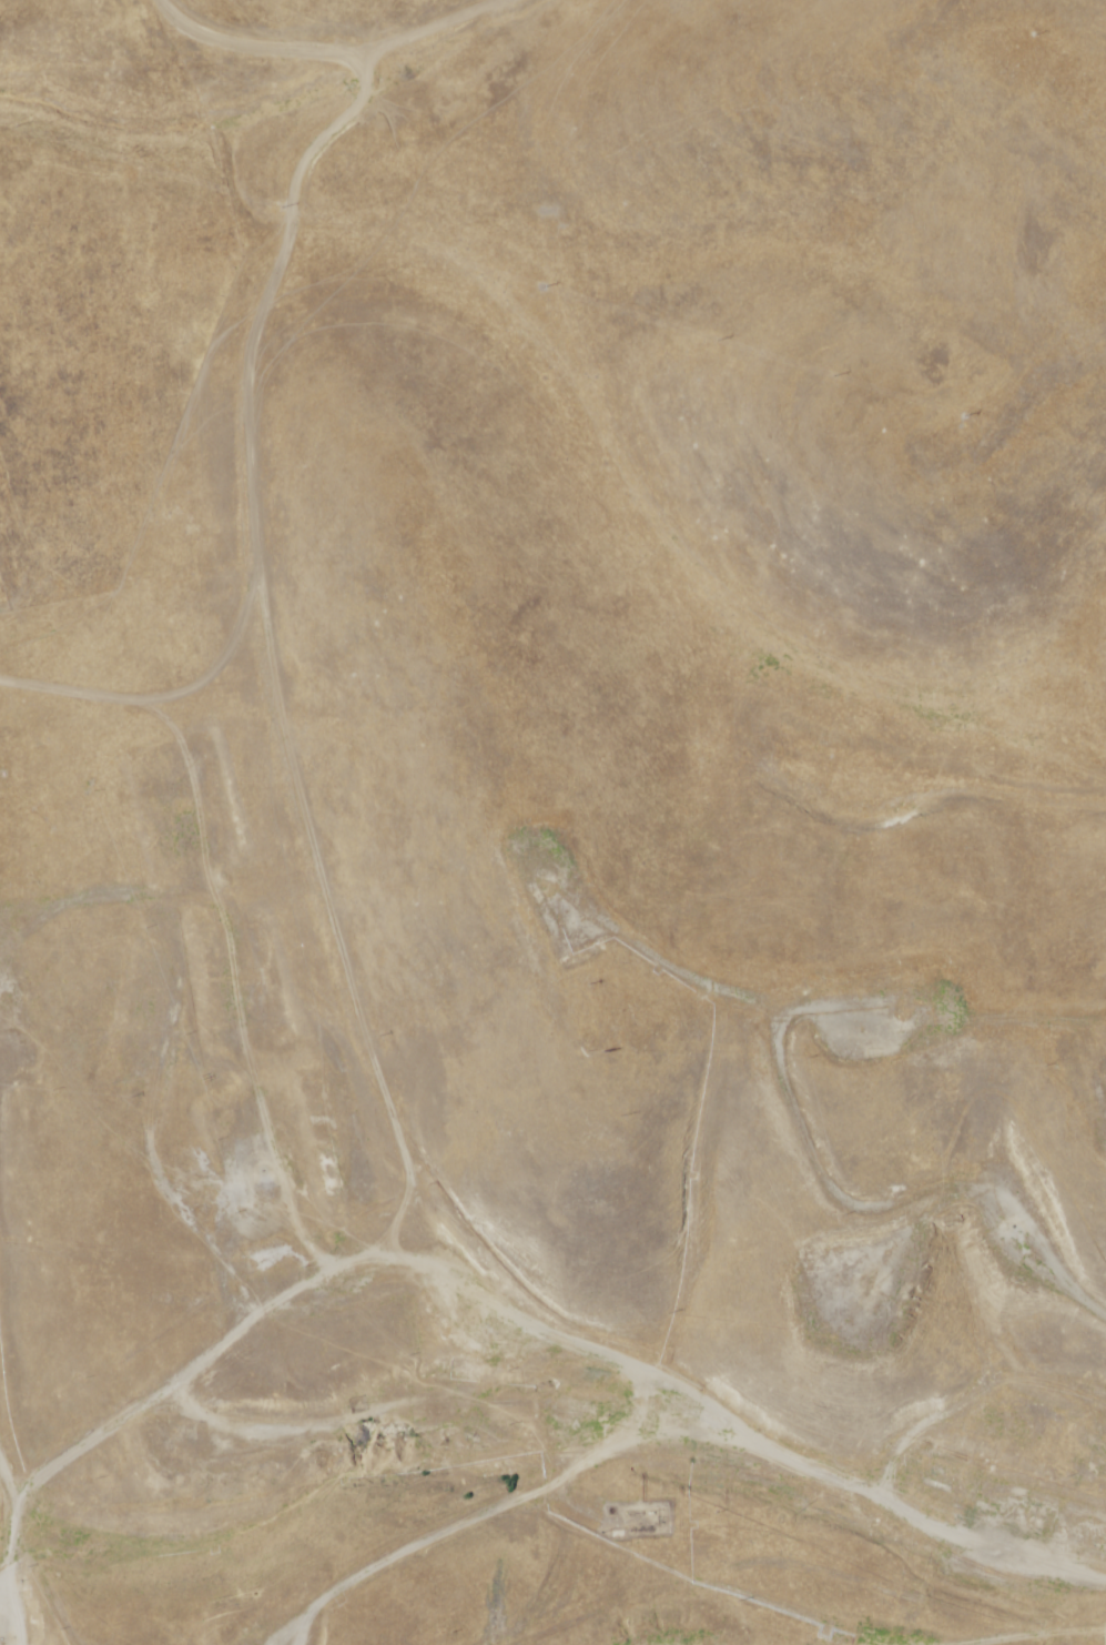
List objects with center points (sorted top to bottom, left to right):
road: (266, 109)
road: (264, 811)
road: (442, 1286)
road: (348, 1371)
road: (500, 1527)
road: (1, 1633)

